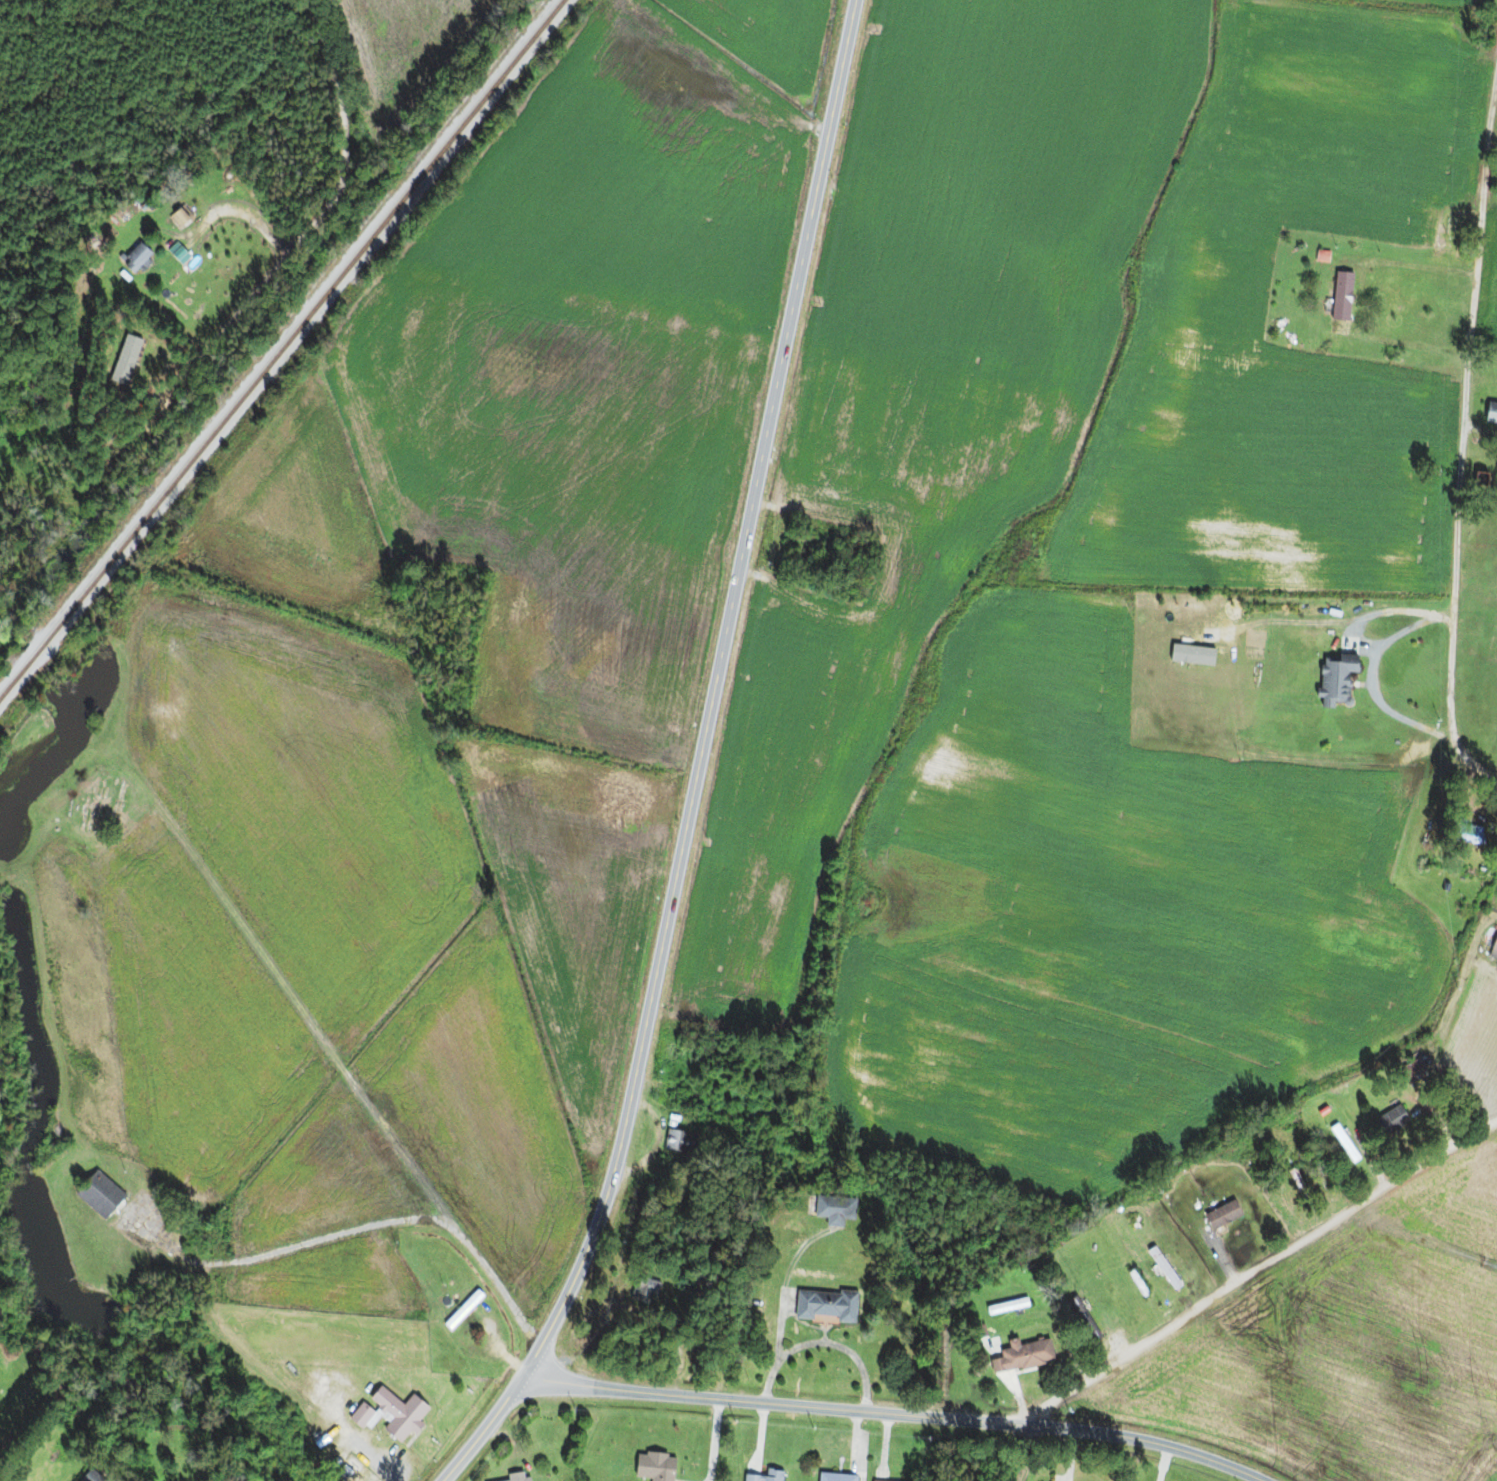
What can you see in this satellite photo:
road: (313, 223)
building: (134, 259)
building: (1338, 306)
railway: (280, 348)
building: (1482, 476)
road: (1466, 493)
building: (1332, 678)
road: (708, 761)
building: (1465, 832)
building: (1493, 948)
road: (311, 1016)
building: (1409, 1071)
building: (1389, 1120)
building: (677, 1141)
building: (1342, 1143)
building: (96, 1194)
building: (832, 1209)
road: (382, 1212)
building: (1220, 1214)
building: (1161, 1268)
building: (643, 1290)
road: (1258, 1295)
building: (822, 1306)
building: (1004, 1306)
building: (461, 1310)
building: (1019, 1355)
road: (894, 1412)
building: (387, 1414)
building: (651, 1466)
building: (88, 1476)
building: (759, 1476)
building: (515, 1477)
building: (832, 1477)

